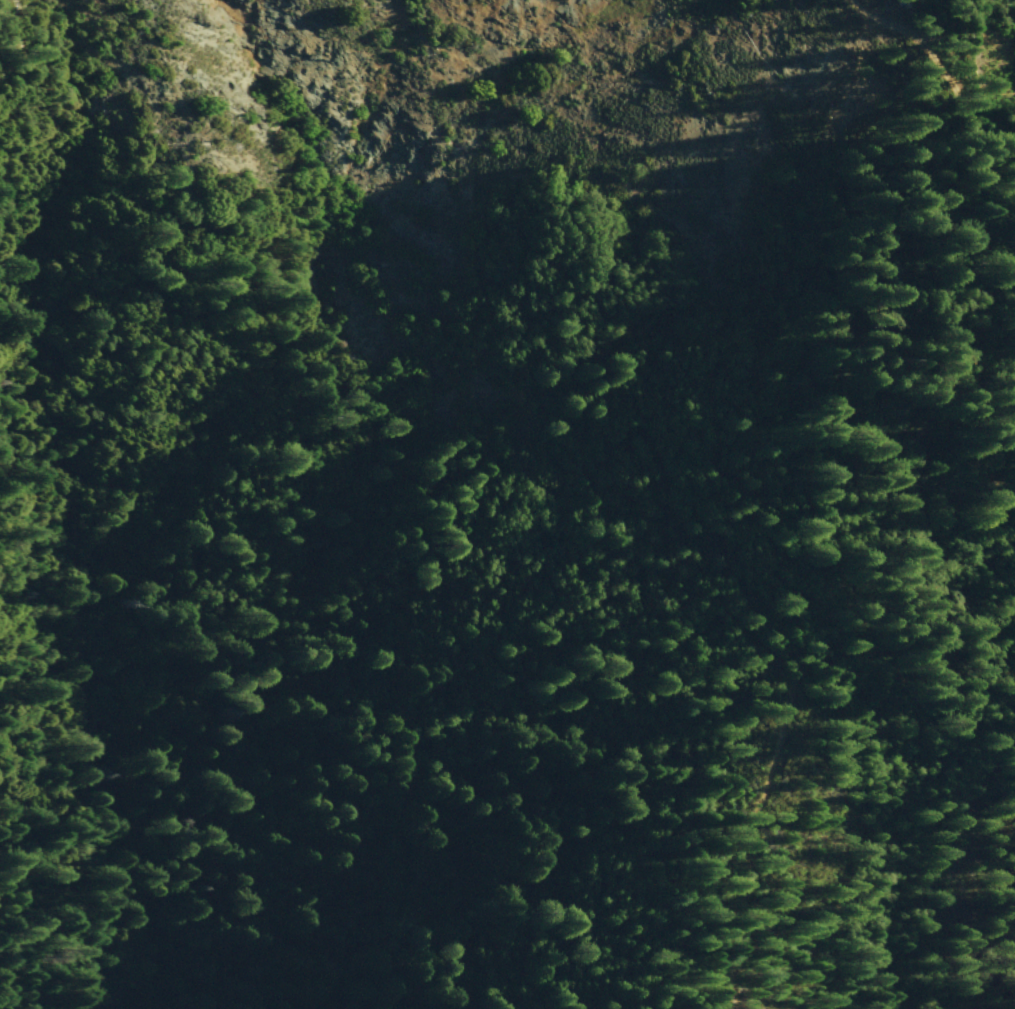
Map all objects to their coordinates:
road: (980, 85)
road: (968, 159)

